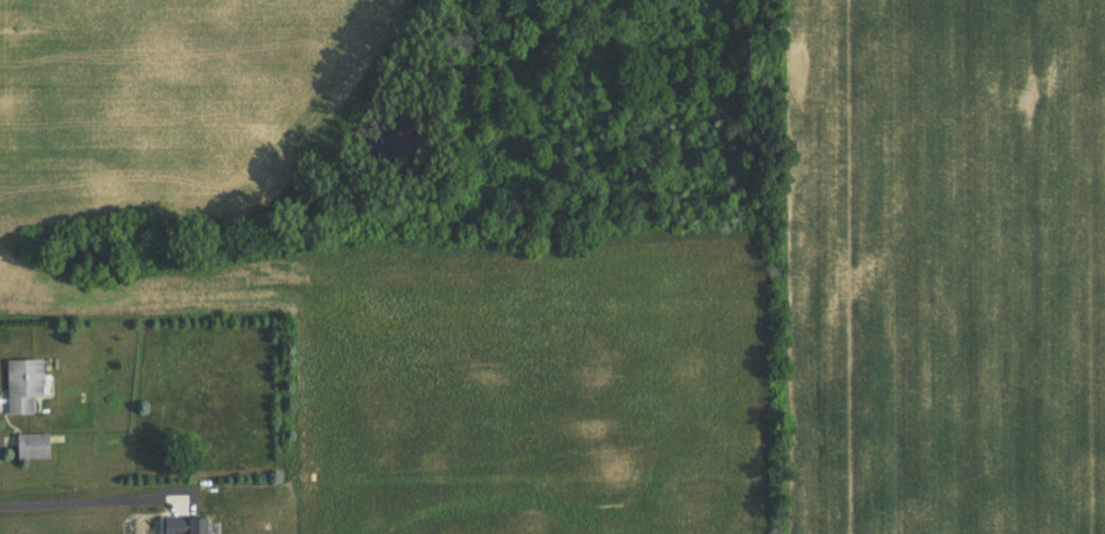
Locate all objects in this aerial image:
building: (27, 385)
building: (35, 447)
road: (79, 500)

